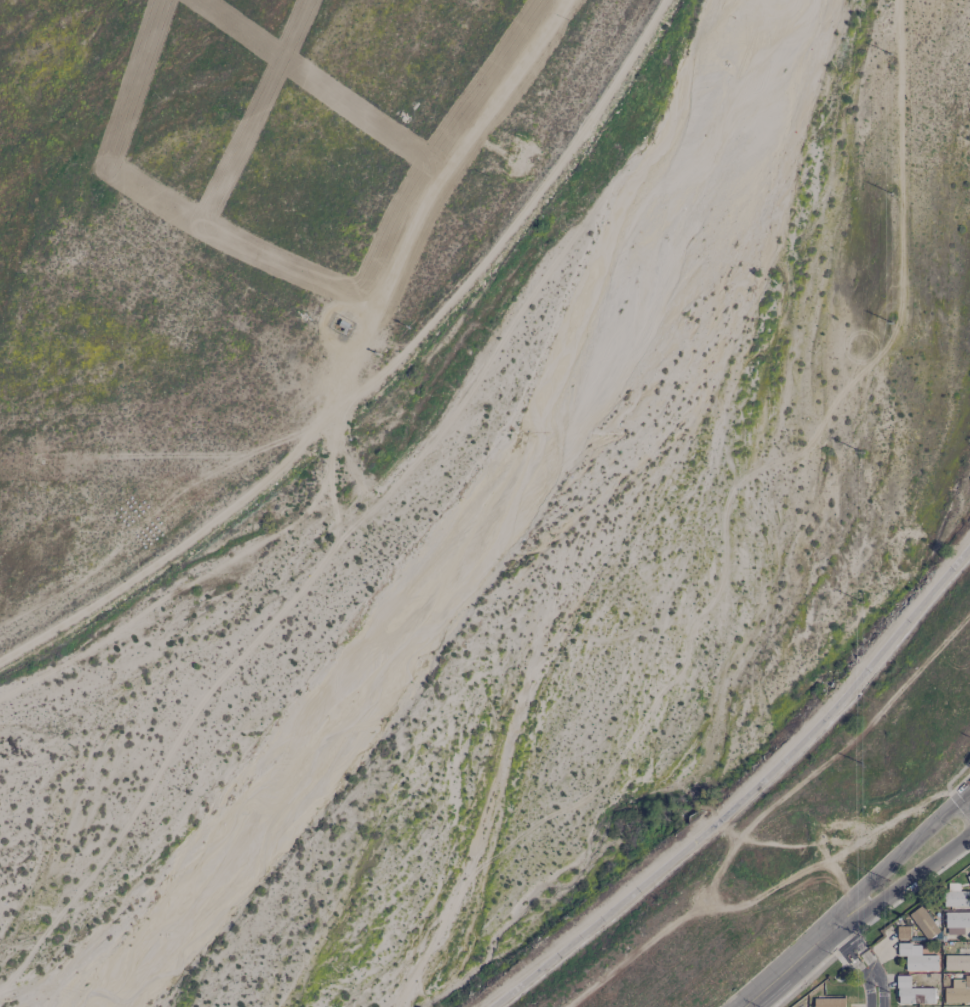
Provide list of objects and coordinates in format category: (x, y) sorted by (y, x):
river: (588, 591)
road: (746, 793)
road: (899, 854)
building: (968, 878)
road: (905, 884)
building: (955, 895)
building: (957, 918)
building: (922, 922)
building: (903, 932)
road: (851, 934)
road: (840, 946)
building: (917, 959)
building: (957, 962)
road: (869, 963)
road: (788, 966)
road: (862, 972)
road: (875, 991)
building: (912, 991)
building: (958, 992)
building: (828, 1002)

